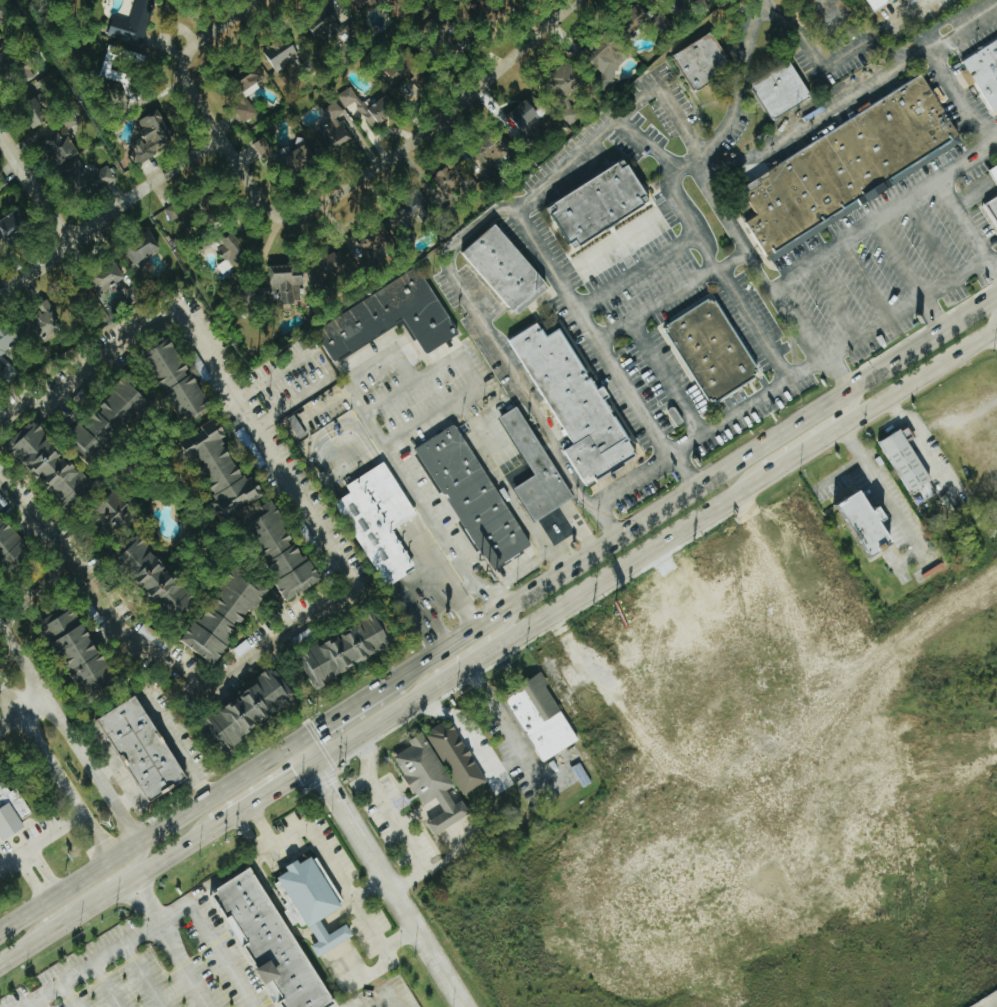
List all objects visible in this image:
building: (719, 0)
building: (364, 2)
building: (879, 4)
road: (760, 5)
building: (401, 8)
road: (908, 13)
building: (4, 15)
building: (140, 17)
building: (2, 41)
road: (866, 44)
building: (280, 54)
road: (186, 55)
building: (609, 60)
building: (702, 61)
building: (407, 71)
building: (111, 72)
building: (983, 73)
building: (248, 77)
building: (567, 78)
building: (782, 91)
road: (663, 94)
road: (956, 100)
building: (37, 101)
building: (368, 107)
building: (245, 110)
building: (527, 113)
road: (437, 123)
road: (809, 124)
building: (334, 129)
building: (152, 136)
road: (996, 143)
building: (496, 147)
building: (263, 149)
building: (299, 160)
building: (849, 167)
road: (556, 173)
building: (993, 173)
road: (247, 179)
building: (454, 180)
road: (35, 190)
road: (946, 190)
road: (676, 197)
building: (601, 205)
road: (720, 206)
building: (991, 209)
building: (175, 210)
road: (111, 215)
building: (12, 226)
road: (932, 240)
building: (142, 248)
building: (232, 252)
road: (820, 259)
road: (993, 259)
road: (901, 261)
building: (331, 267)
building: (507, 269)
road: (693, 281)
road: (865, 283)
building: (115, 286)
road: (835, 302)
road: (935, 313)
road: (899, 315)
building: (391, 318)
road: (588, 320)
building: (45, 321)
road: (995, 321)
road: (996, 331)
building: (9, 339)
road: (497, 345)
building: (713, 350)
road: (276, 372)
road: (665, 378)
building: (181, 382)
road: (292, 401)
building: (576, 404)
road: (730, 416)
building: (114, 420)
road: (427, 423)
building: (294, 428)
road: (796, 440)
road: (921, 445)
building: (909, 463)
building: (53, 467)
building: (535, 469)
building: (224, 470)
road: (696, 486)
road: (615, 488)
road: (299, 494)
road: (885, 494)
building: (473, 496)
road: (425, 501)
road: (27, 508)
road: (516, 508)
building: (115, 517)
building: (380, 521)
building: (871, 524)
building: (10, 545)
road: (656, 545)
building: (284, 550)
road: (73, 554)
road: (62, 566)
building: (159, 576)
road: (44, 582)
building: (228, 613)
road: (704, 628)
building: (152, 635)
building: (81, 649)
building: (348, 650)
road: (464, 650)
road: (23, 707)
road: (348, 707)
road: (501, 714)
building: (542, 717)
road: (465, 724)
traffic signals: (316, 728)
road: (70, 730)
road: (780, 737)
road: (89, 738)
road: (766, 745)
road: (178, 746)
building: (144, 747)
road: (106, 766)
road: (55, 771)
building: (441, 771)
traffic signals: (296, 774)
traffic signals: (328, 780)
road: (266, 792)
road: (127, 799)
road: (742, 805)
building: (12, 811)
road: (245, 811)
road: (390, 814)
road: (246, 819)
road: (259, 825)
road: (249, 831)
road: (150, 833)
road: (40, 837)
road: (258, 839)
road: (957, 841)
road: (267, 845)
road: (331, 865)
road: (389, 870)
road: (37, 872)
road: (84, 892)
road: (108, 893)
building: (316, 901)
road: (211, 939)
building: (272, 941)
road: (167, 944)
road: (377, 945)
road: (918, 956)
road: (87, 964)
road: (139, 975)
parking lot: (127, 978)
road: (99, 986)
road: (67, 994)
road: (385, 998)
road: (992, 1003)

